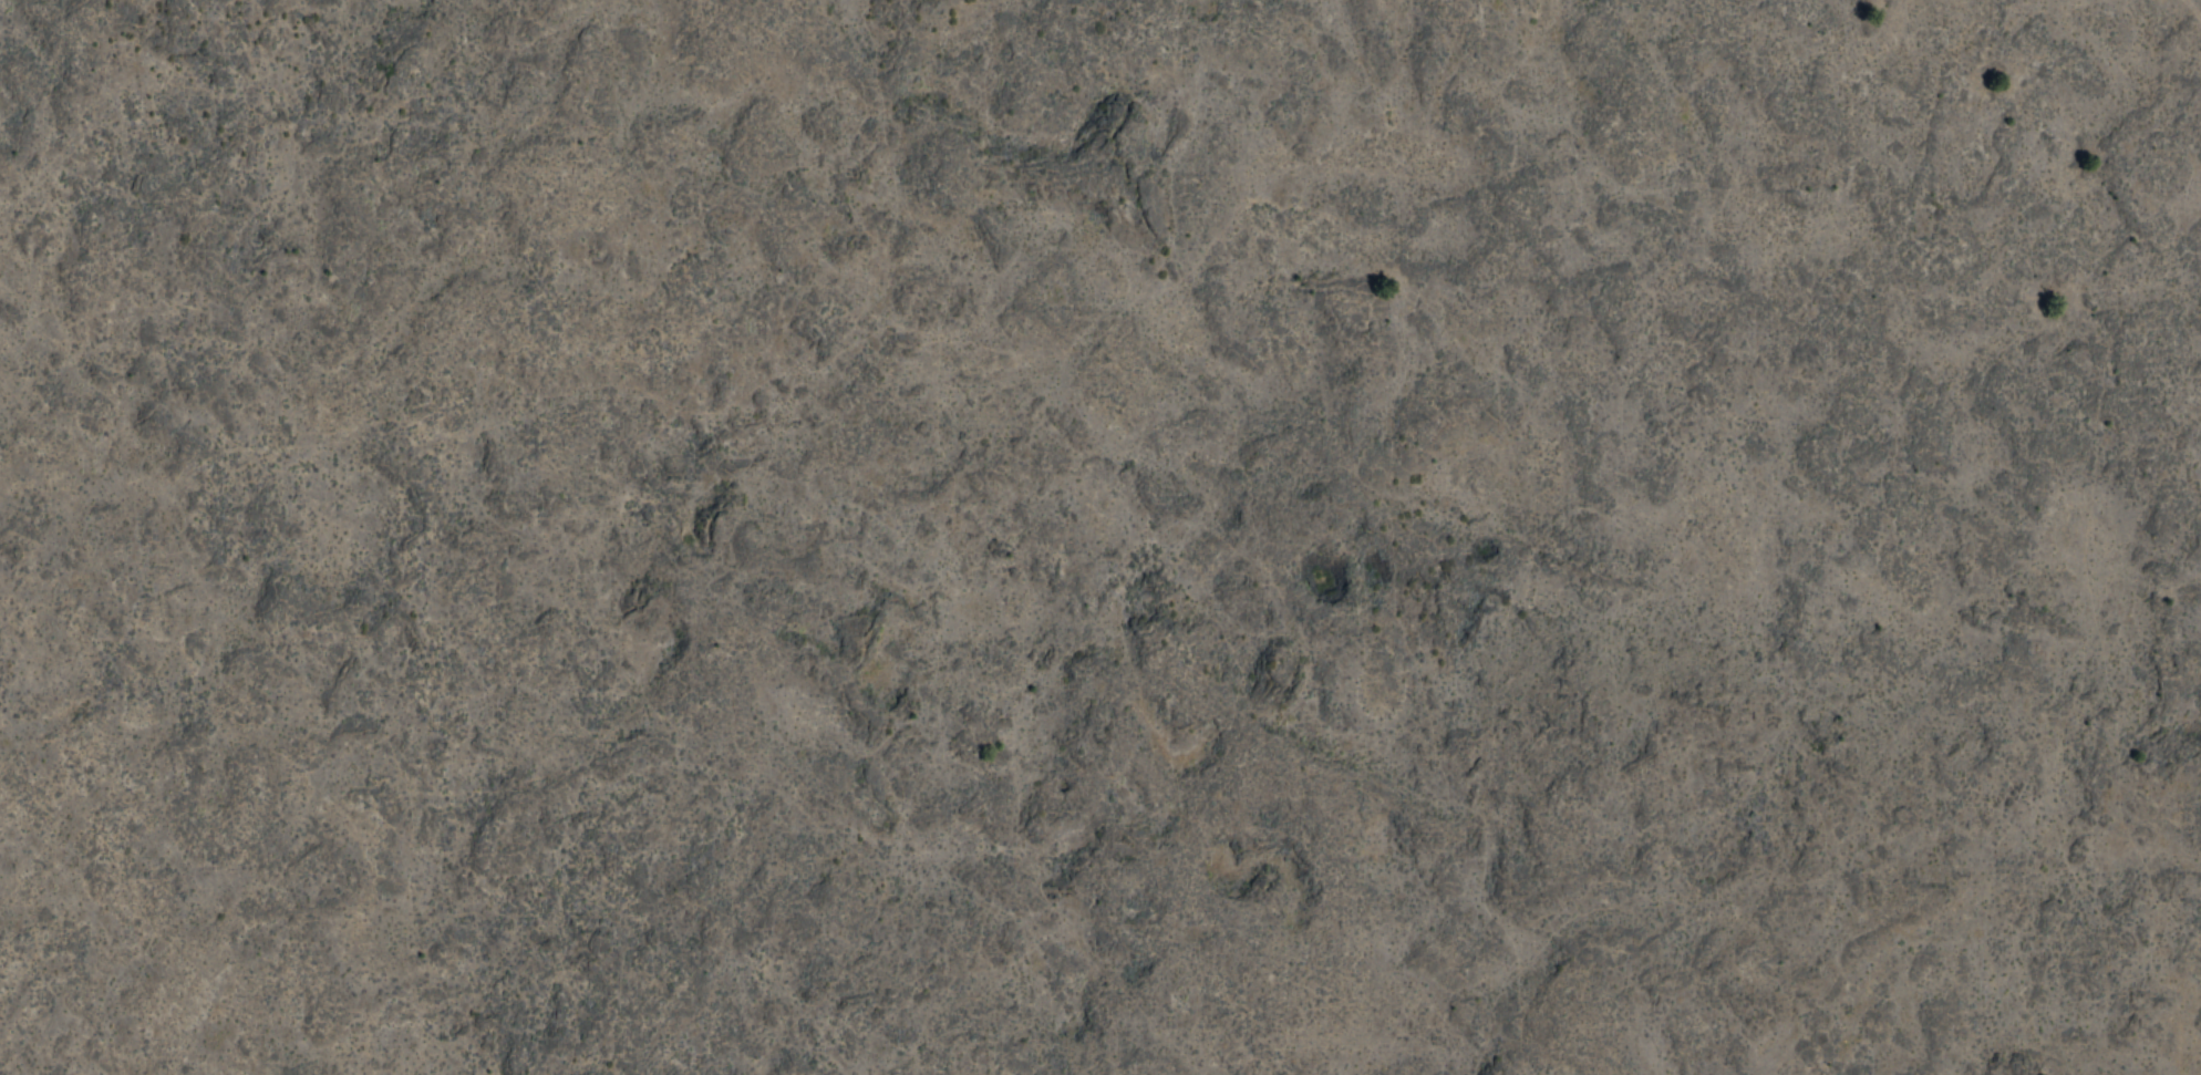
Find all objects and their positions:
road: (2193, 8)

